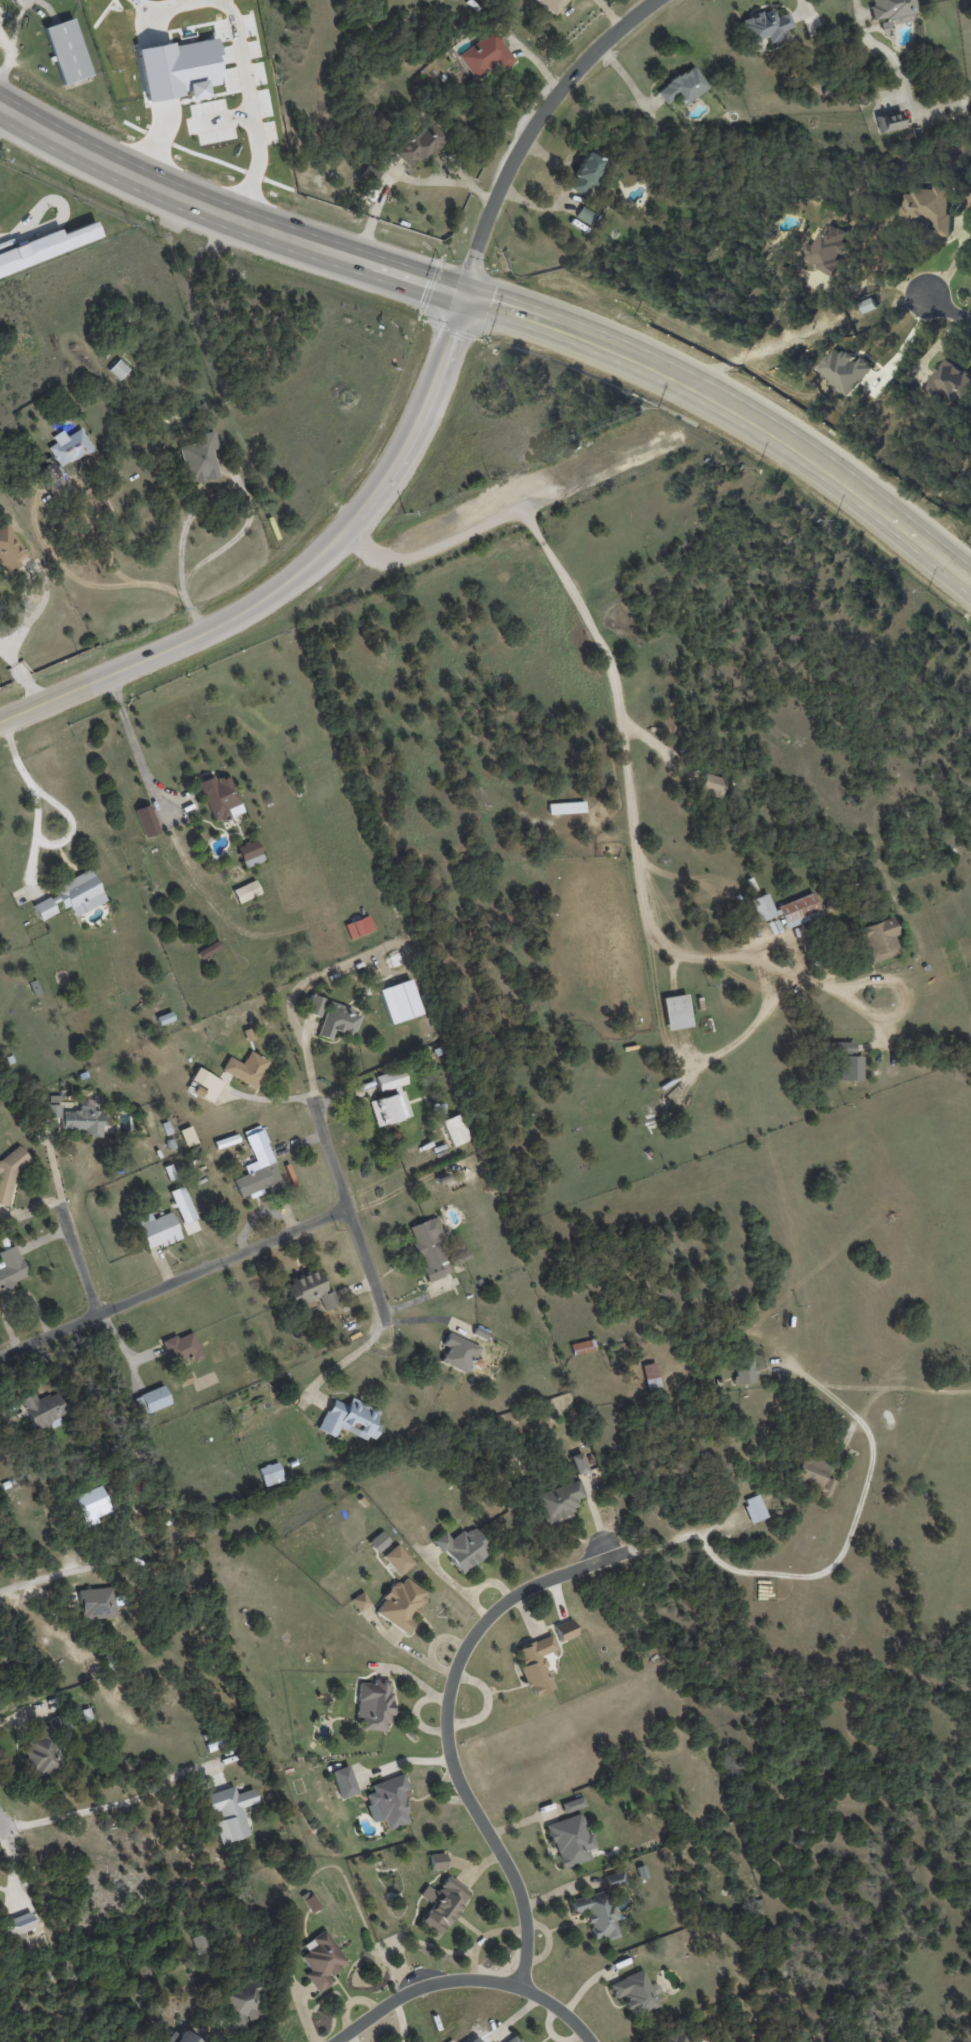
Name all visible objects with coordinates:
road: (159, 2)
building: (550, 5)
building: (890, 9)
building: (766, 26)
building: (68, 48)
building: (485, 55)
building: (178, 65)
building: (683, 86)
road: (253, 109)
road: (5, 120)
building: (890, 121)
road: (532, 129)
road: (154, 140)
building: (419, 144)
building: (585, 173)
building: (926, 208)
building: (585, 215)
building: (48, 247)
building: (826, 250)
road: (372, 264)
road: (877, 280)
traffic signals: (463, 295)
building: (867, 306)
road: (951, 312)
road: (905, 342)
road: (755, 353)
building: (118, 369)
building: (843, 370)
building: (948, 382)
building: (69, 446)
building: (199, 458)
building: (52, 472)
road: (234, 488)
road: (862, 498)
road: (39, 535)
building: (9, 549)
road: (294, 573)
road: (21, 673)
road: (621, 728)
road: (132, 745)
building: (712, 785)
building: (222, 801)
building: (566, 807)
road: (65, 810)
building: (146, 820)
building: (249, 853)
building: (245, 891)
building: (86, 901)
building: (761, 907)
building: (43, 908)
building: (797, 910)
building: (358, 926)
building: (879, 940)
building: (209, 949)
building: (401, 1000)
building: (676, 1011)
building: (334, 1017)
building: (164, 1018)
building: (847, 1060)
building: (250, 1068)
building: (203, 1083)
building: (393, 1108)
building: (74, 1115)
building: (455, 1129)
building: (259, 1146)
building: (13, 1173)
building: (258, 1179)
road: (345, 1202)
building: (184, 1203)
building: (159, 1232)
building: (432, 1240)
building: (459, 1257)
road: (78, 1259)
building: (12, 1271)
road: (173, 1282)
building: (309, 1290)
building: (583, 1346)
building: (182, 1348)
building: (456, 1353)
road: (351, 1354)
building: (743, 1370)
building: (651, 1377)
building: (153, 1398)
building: (348, 1419)
building: (58, 1424)
building: (578, 1463)
building: (270, 1471)
building: (812, 1474)
building: (94, 1501)
building: (558, 1502)
building: (754, 1508)
building: (377, 1541)
building: (463, 1548)
road: (839, 1557)
building: (397, 1559)
road: (47, 1576)
building: (94, 1601)
building: (360, 1601)
building: (401, 1604)
building: (565, 1630)
building: (535, 1664)
building: (374, 1705)
road: (448, 1727)
building: (42, 1755)
building: (343, 1781)
building: (387, 1802)
building: (572, 1804)
road: (93, 1808)
building: (229, 1815)
road: (1, 1831)
building: (570, 1840)
building: (437, 1861)
building: (614, 1879)
building: (310, 1901)
building: (442, 1903)
building: (597, 1914)
building: (16, 1922)
building: (321, 1959)
road: (465, 1979)
building: (634, 1993)
building: (242, 2004)
building: (180, 2037)
building: (674, 2037)
building: (512, 2039)

